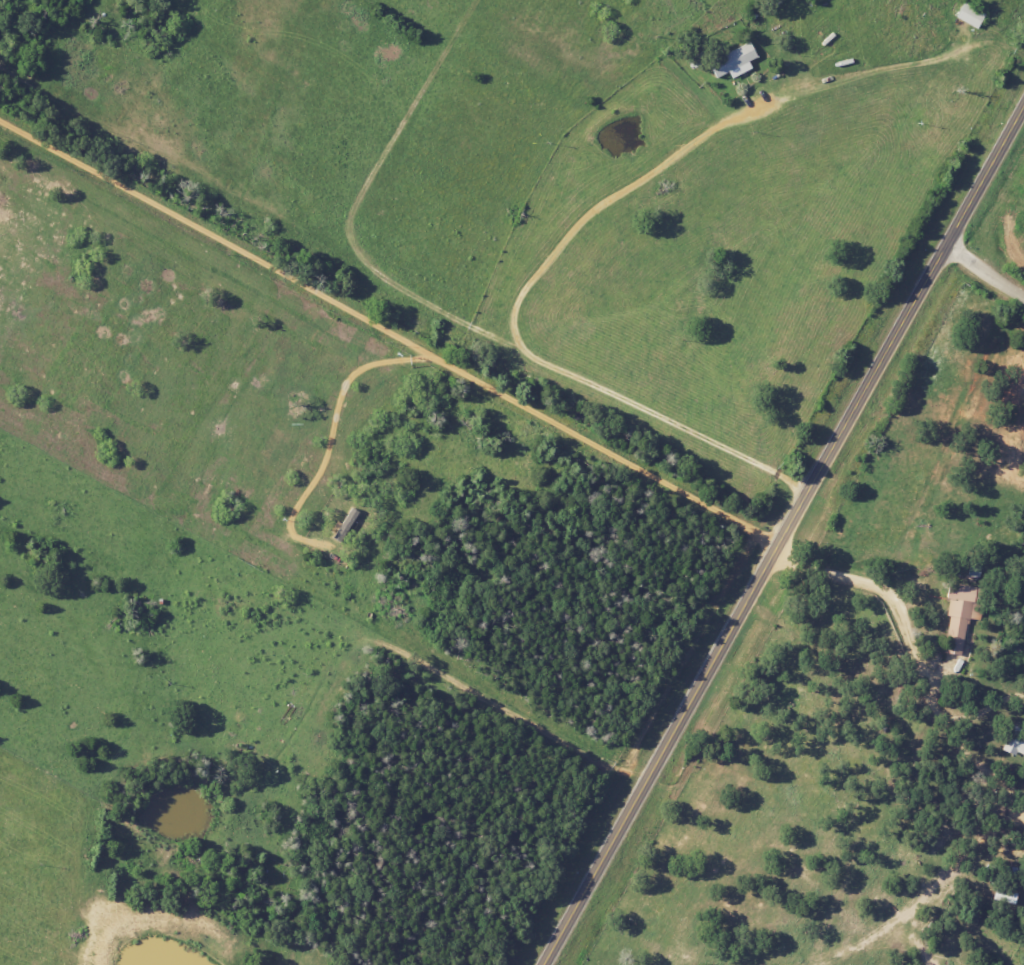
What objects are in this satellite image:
building: (968, 15)
building: (731, 61)
road: (983, 272)
road: (512, 327)
road: (387, 333)
road: (781, 533)
building: (959, 612)
road: (906, 622)
road: (881, 694)
building: (1014, 741)
building: (1001, 895)

